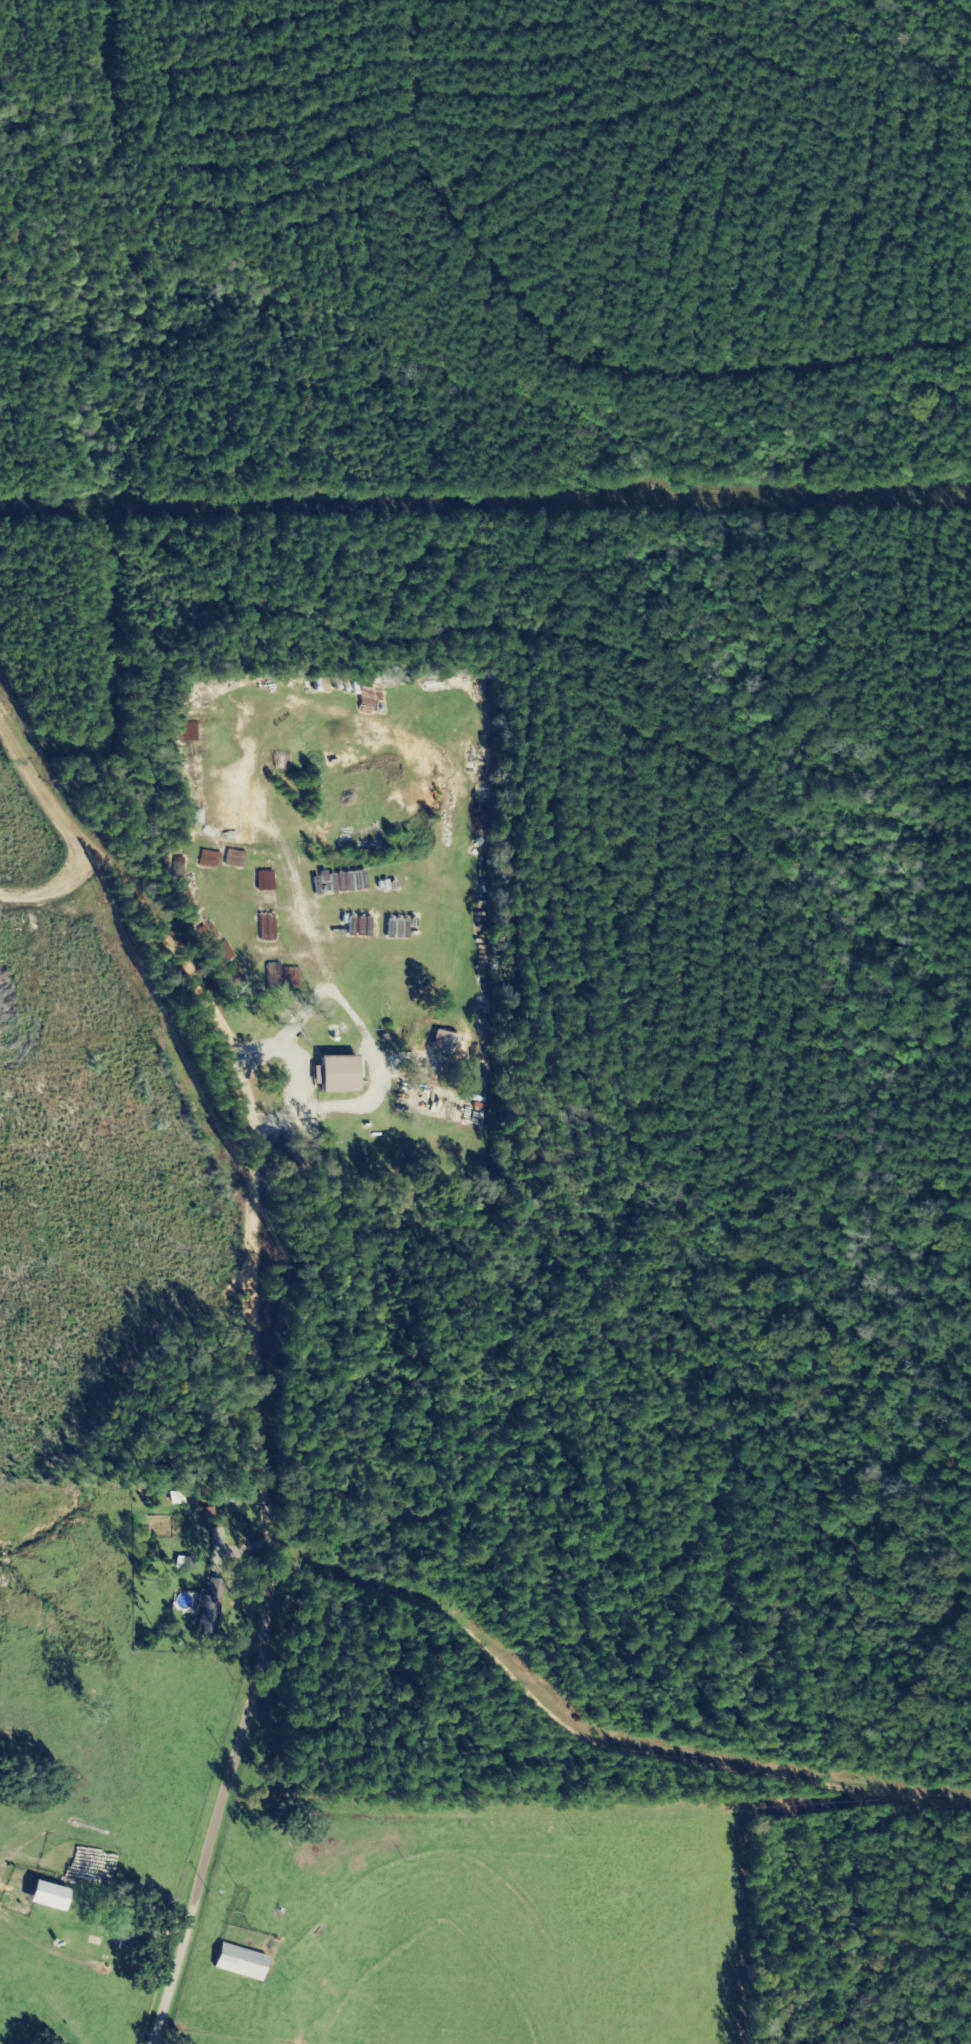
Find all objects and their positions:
building: (233, 718)
road: (38, 823)
road: (33, 890)
building: (192, 922)
building: (446, 1043)
building: (334, 1075)
road: (248, 1432)
building: (204, 1613)
building: (40, 1894)
building: (237, 1961)

